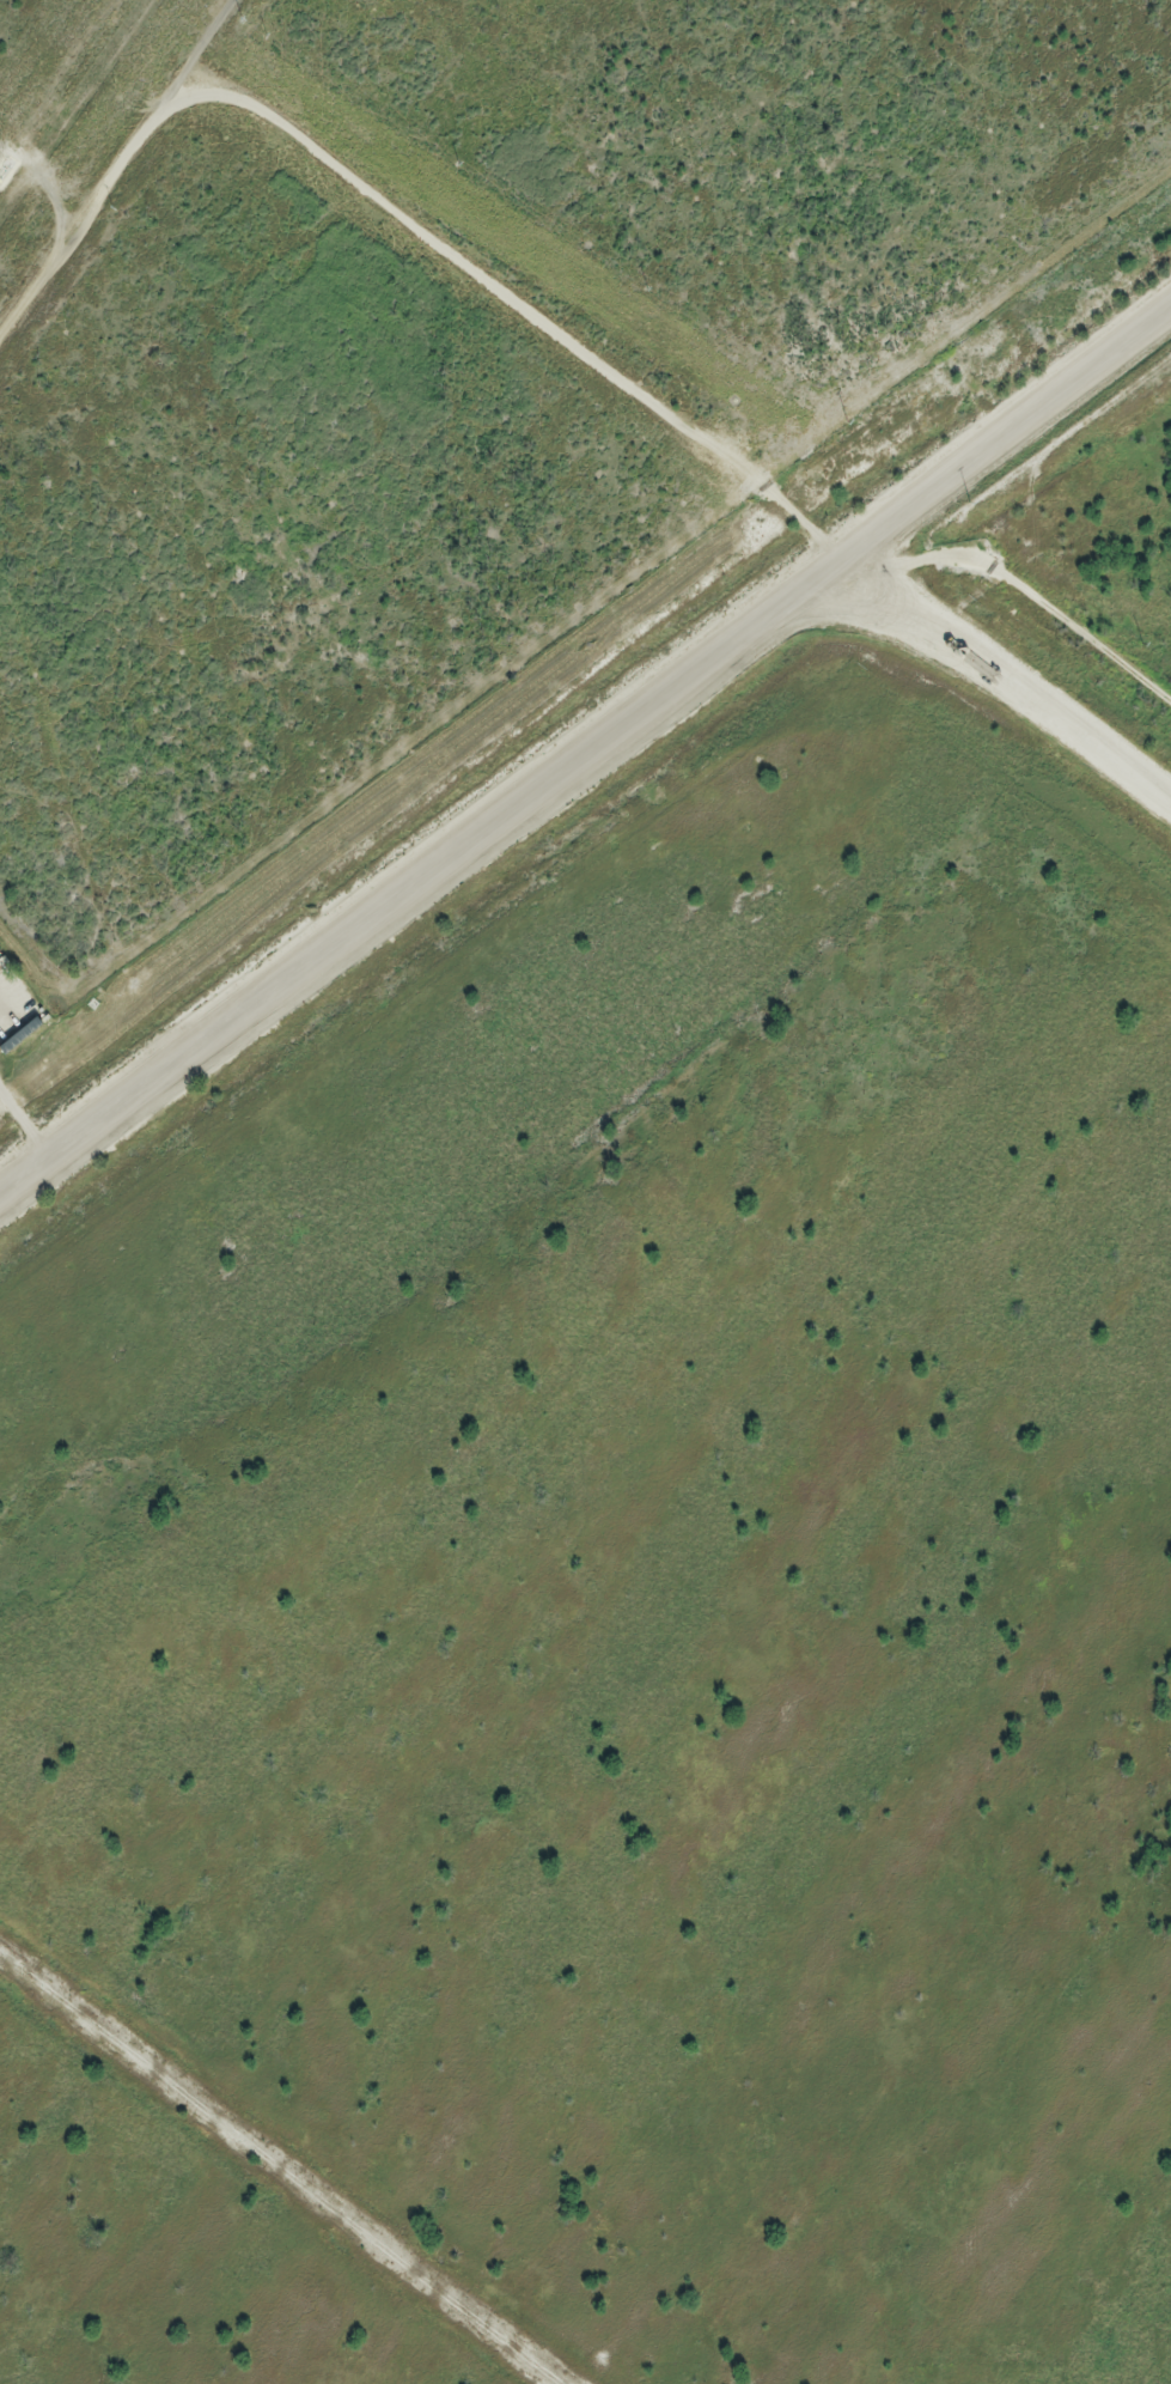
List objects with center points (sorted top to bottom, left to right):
road: (539, 310)
road: (591, 748)
building: (20, 1036)
quarry: (635, 1490)

